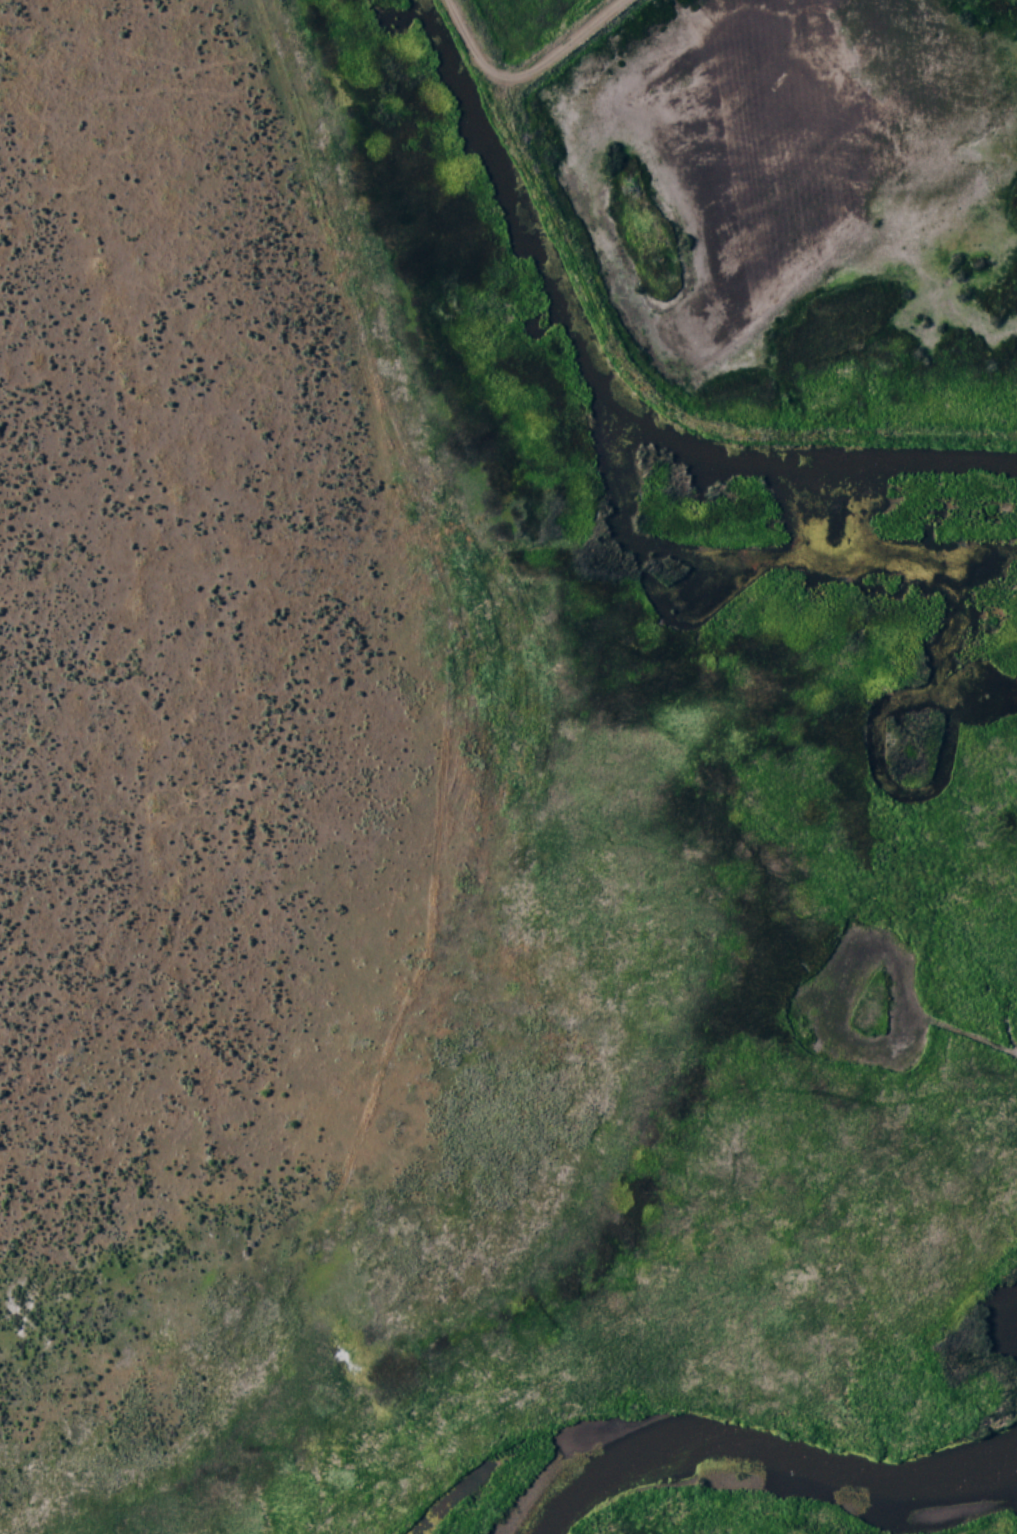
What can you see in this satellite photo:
river: (763, 1473)

